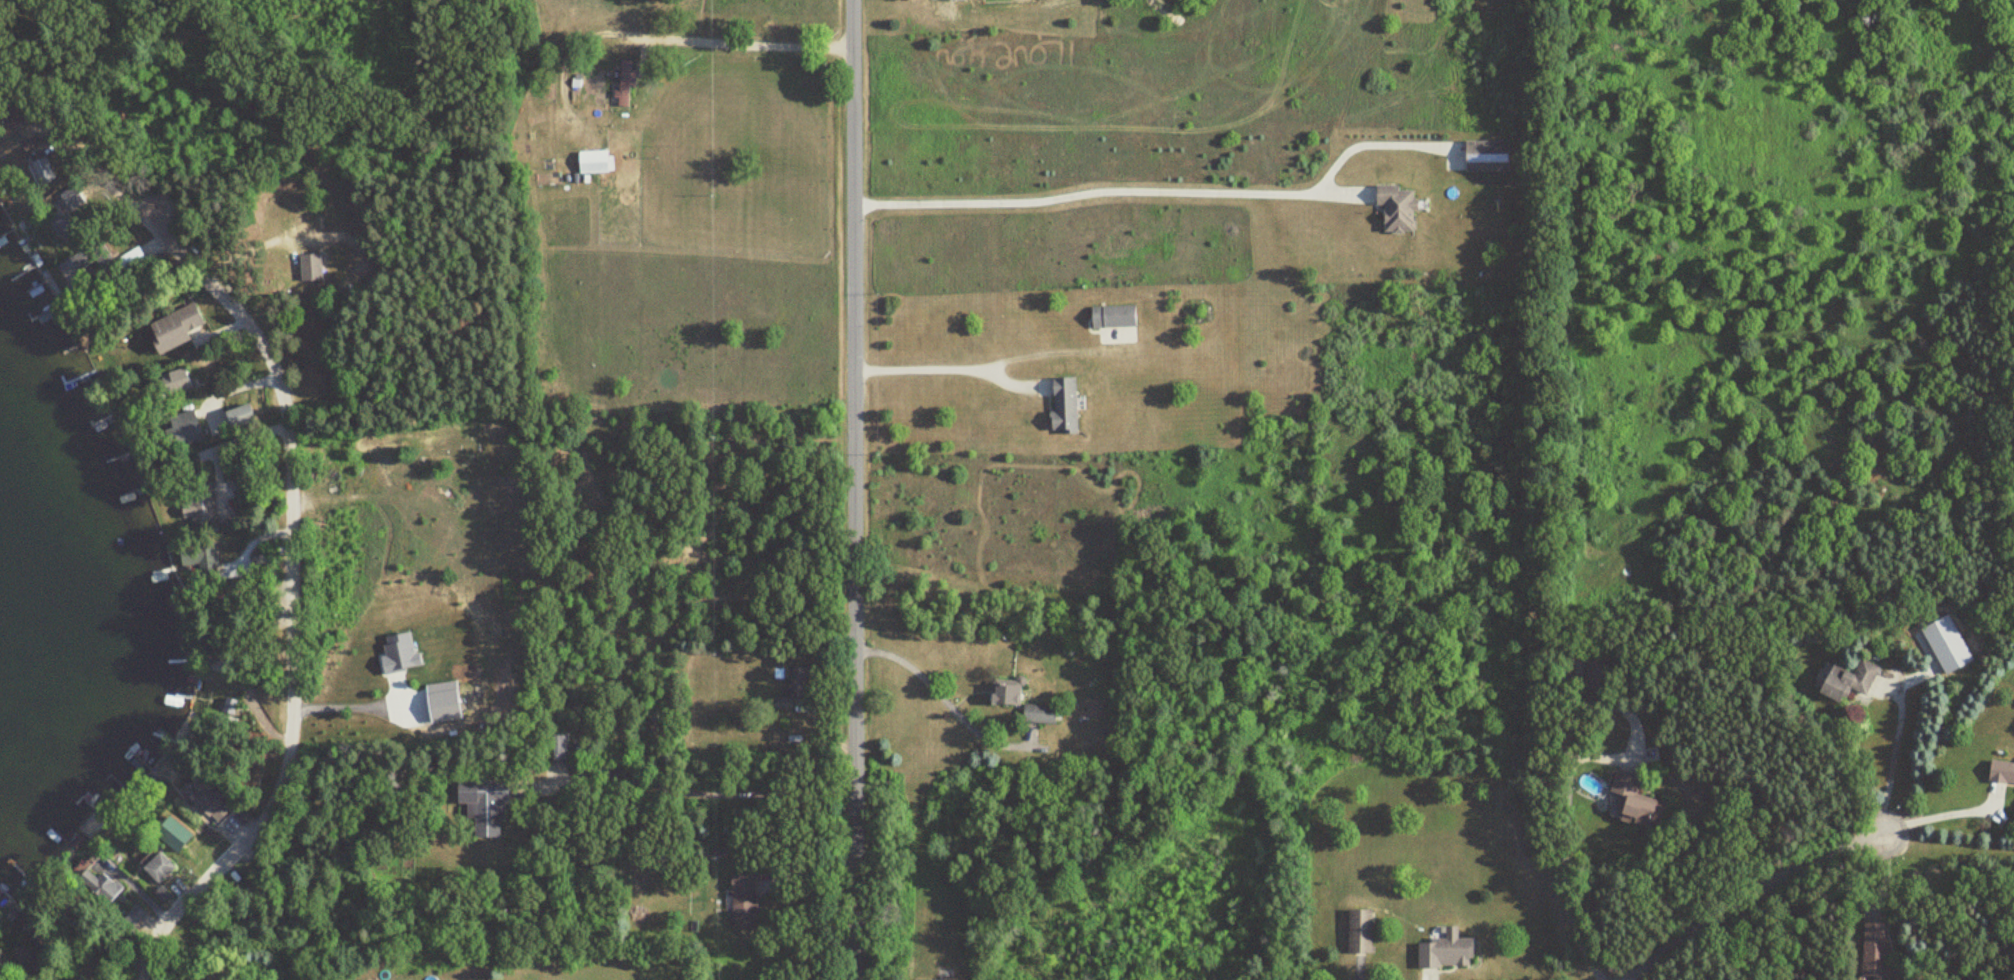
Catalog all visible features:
building: (967, 0)
road: (733, 29)
building: (622, 84)
road: (1365, 145)
building: (1484, 156)
building: (590, 162)
building: (36, 170)
road: (1105, 191)
building: (69, 198)
building: (1393, 209)
building: (61, 228)
building: (307, 269)
building: (1110, 317)
building: (170, 330)
road: (941, 367)
building: (171, 382)
building: (1060, 405)
building: (237, 416)
building: (179, 430)
road: (856, 489)
building: (198, 513)
road: (290, 576)
building: (1843, 680)
building: (790, 688)
building: (1003, 693)
road: (938, 695)
road: (348, 705)
building: (226, 708)
road: (1629, 711)
building: (1036, 713)
building: (557, 747)
road: (1891, 753)
building: (2000, 772)
road: (700, 793)
building: (203, 802)
building: (1629, 802)
building: (481, 805)
road: (1942, 814)
building: (156, 867)
road: (1566, 879)
building: (98, 887)
building: (740, 901)
road: (1756, 903)
building: (130, 917)
building: (1357, 930)
building: (1872, 949)
building: (1442, 950)
building: (26, 959)
road: (1427, 978)

